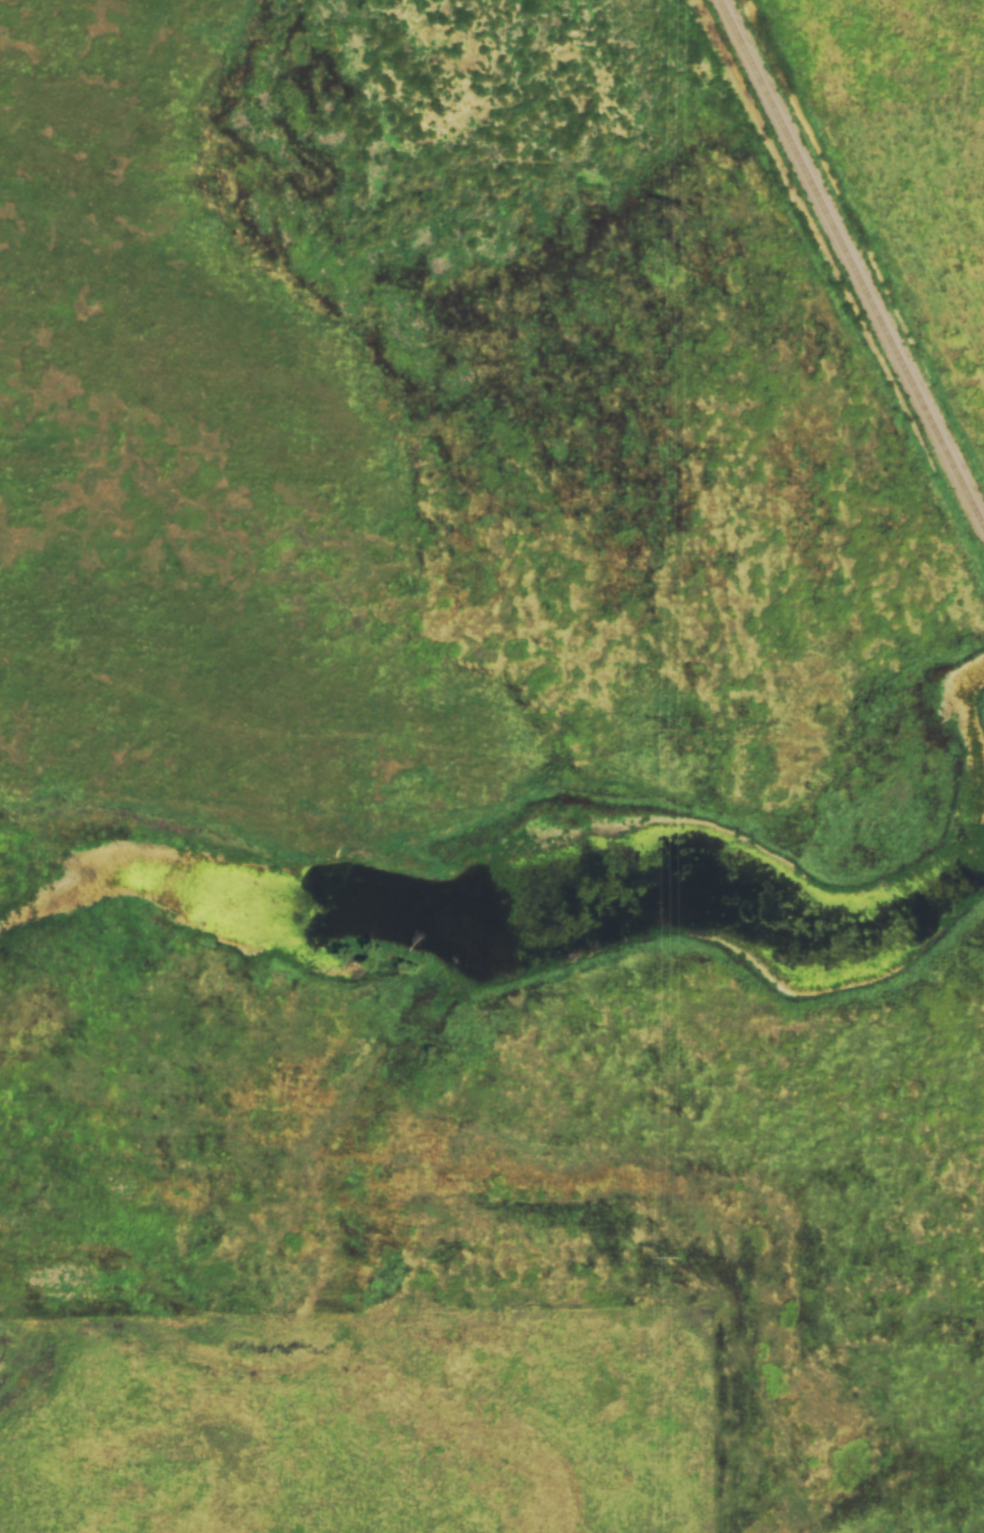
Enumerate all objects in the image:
power tower: (687, 210)
railway: (853, 260)
power tower: (681, 730)
power tower: (675, 1258)
road: (690, 1495)

